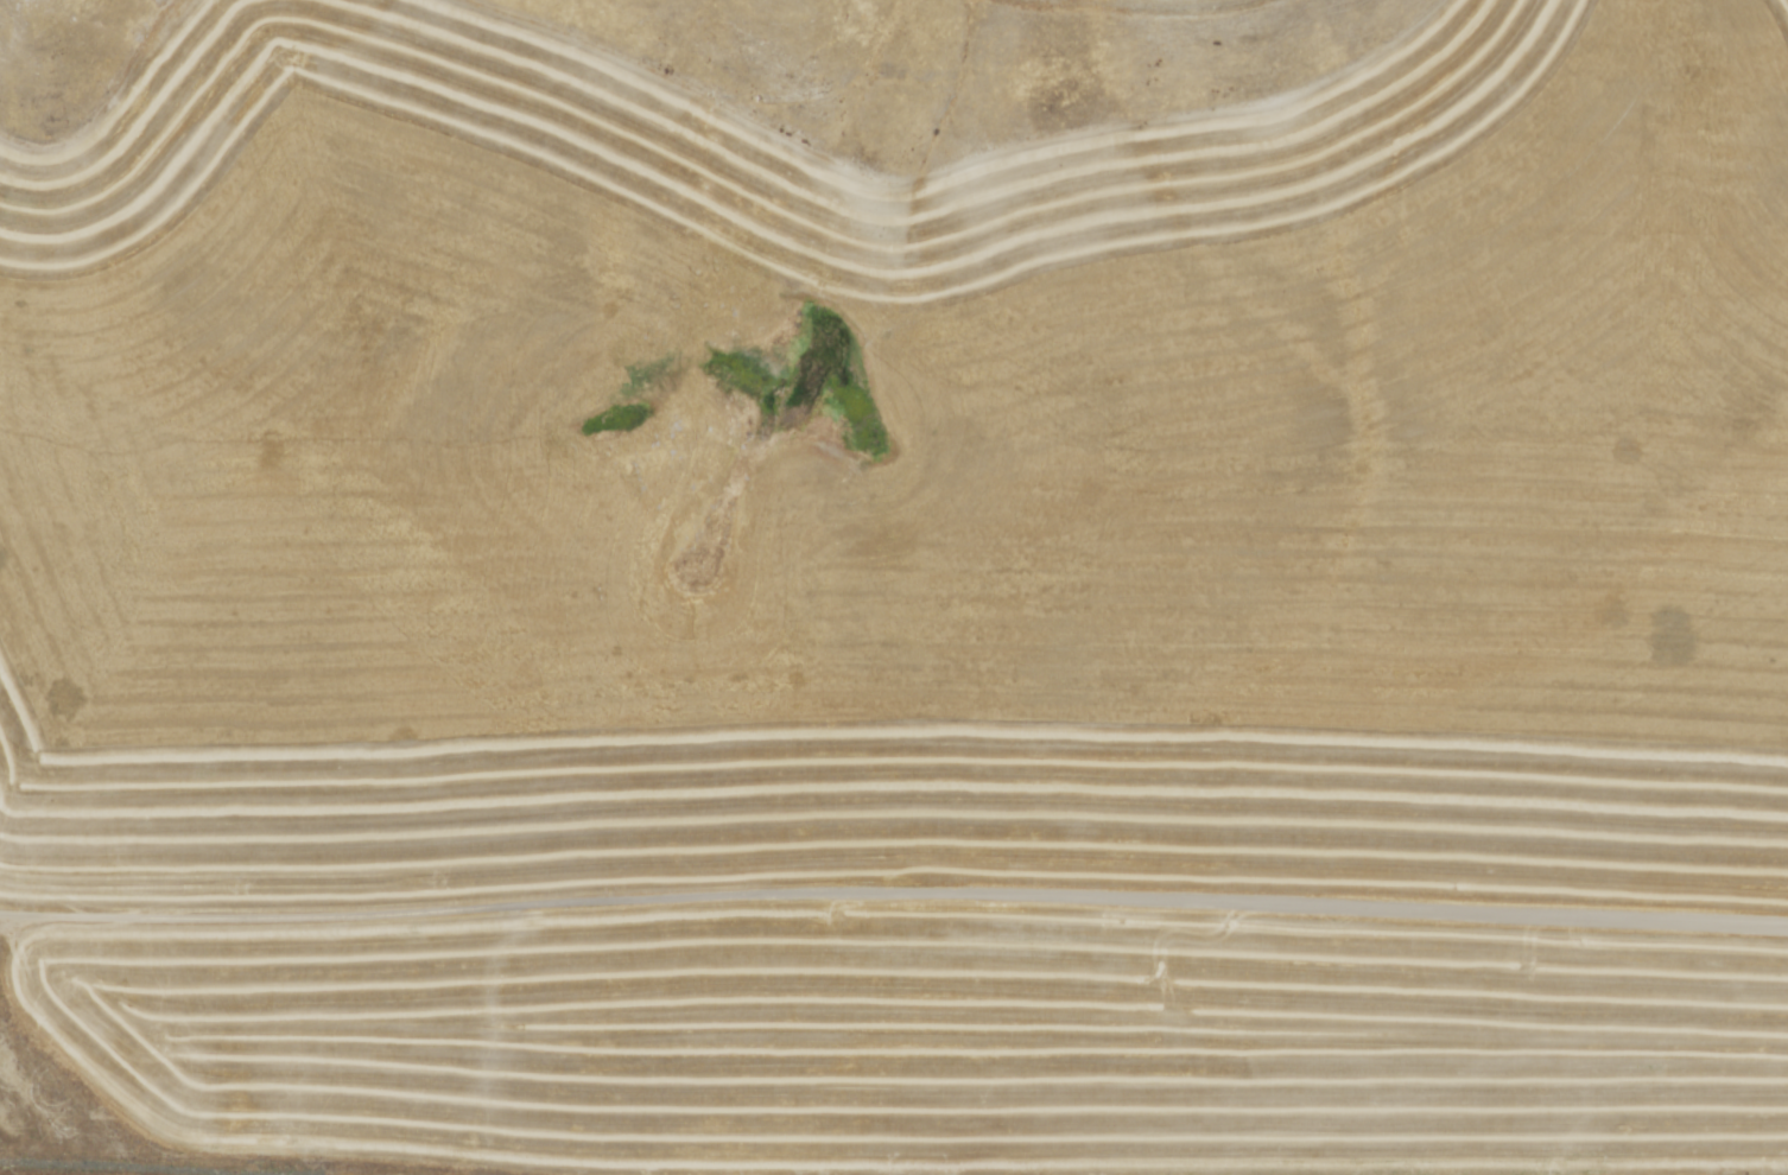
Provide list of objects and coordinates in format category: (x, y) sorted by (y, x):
road: (893, 887)

